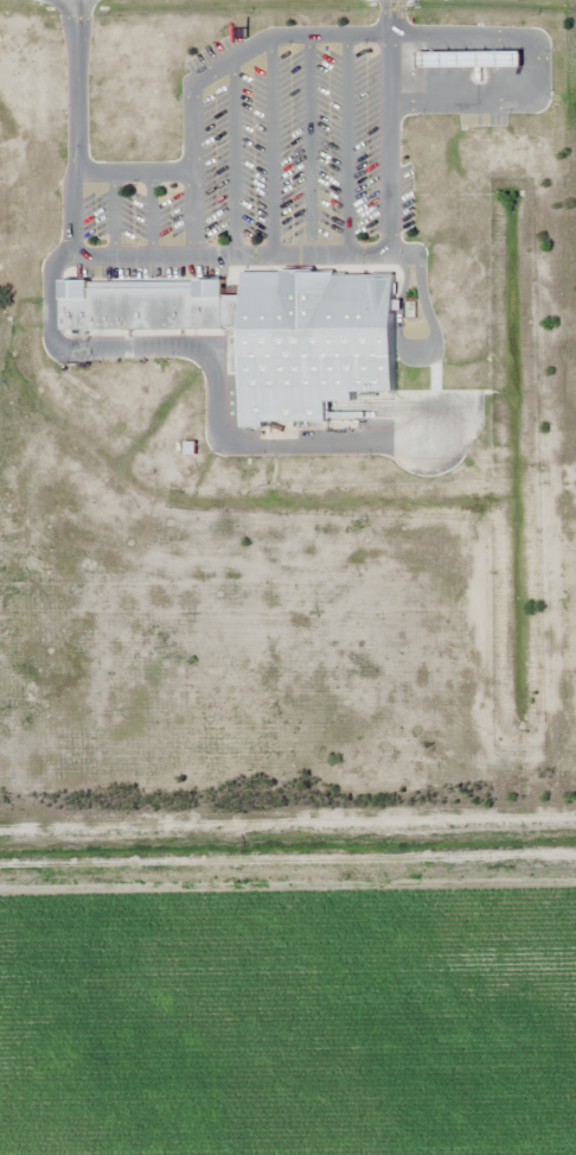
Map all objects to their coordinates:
gas station: (471, 57)

